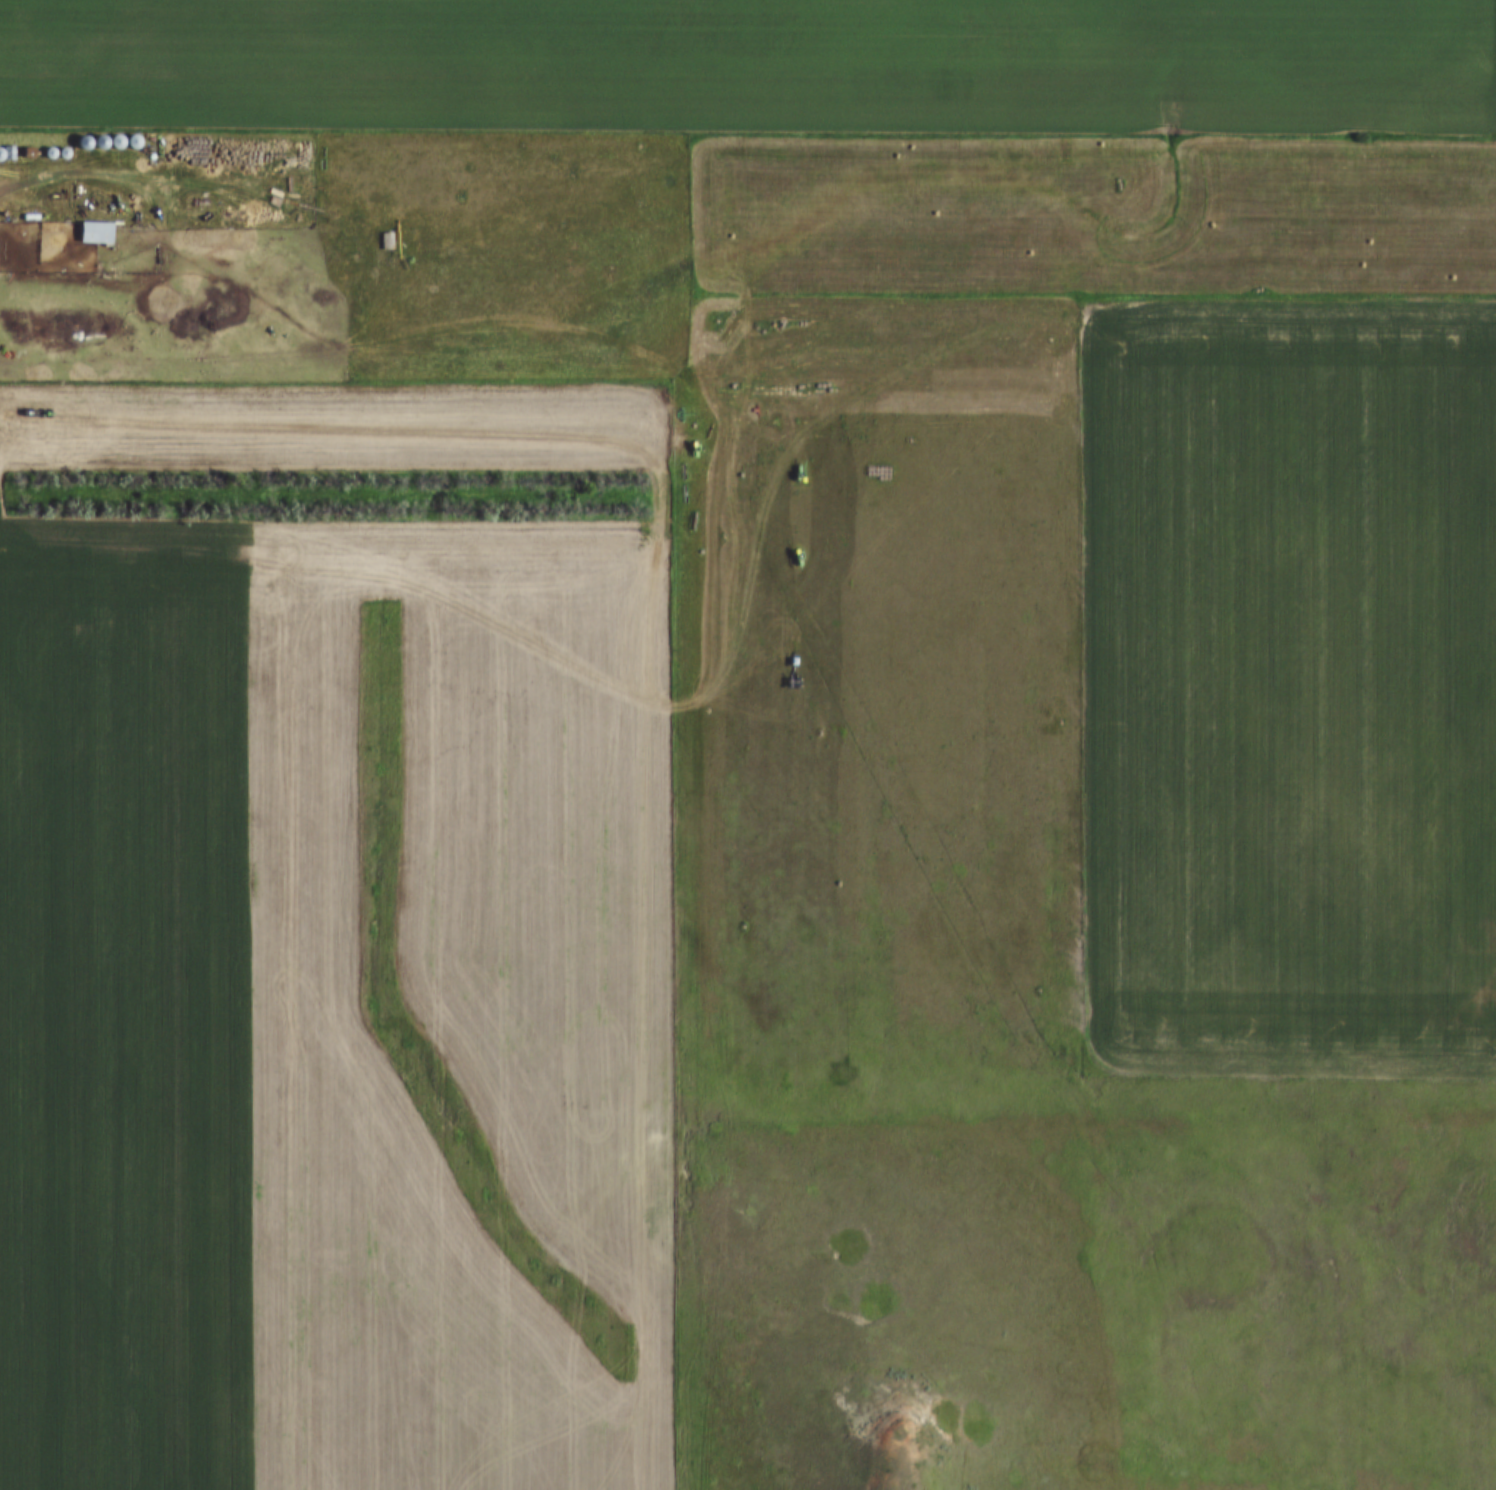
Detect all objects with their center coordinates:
road: (69, 171)
building: (99, 233)
building: (389, 241)

